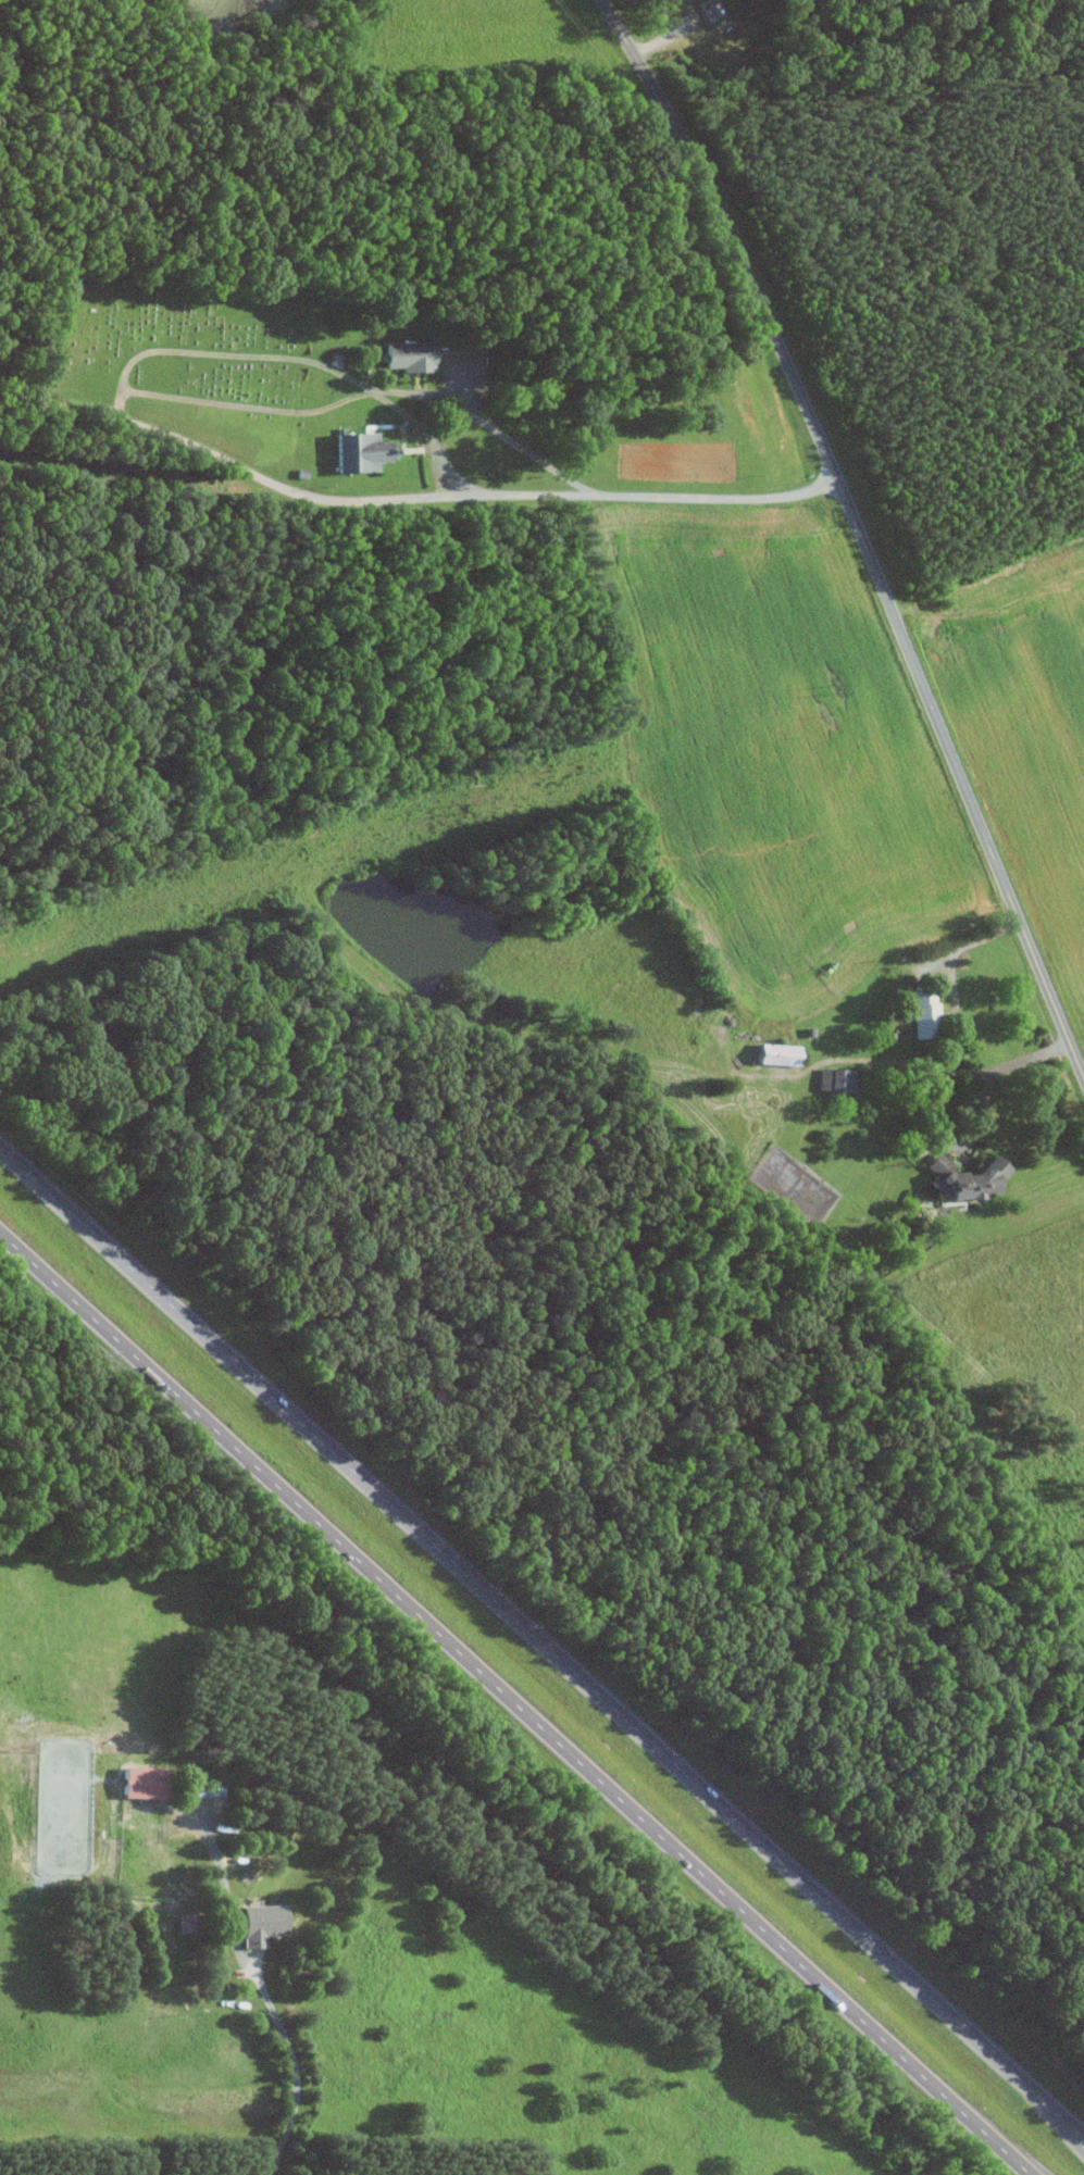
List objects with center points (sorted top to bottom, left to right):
building: (711, 7)
building: (409, 354)
road: (294, 358)
road: (364, 392)
building: (361, 450)
road: (409, 492)
road: (858, 526)
building: (924, 1013)
road: (956, 1030)
building: (777, 1053)
building: (836, 1079)
road: (955, 1142)
building: (964, 1178)
road: (541, 1636)
road: (515, 1705)
building: (142, 1780)
building: (204, 1789)
road: (224, 1891)
building: (186, 1922)
building: (261, 1922)
road: (294, 2074)

